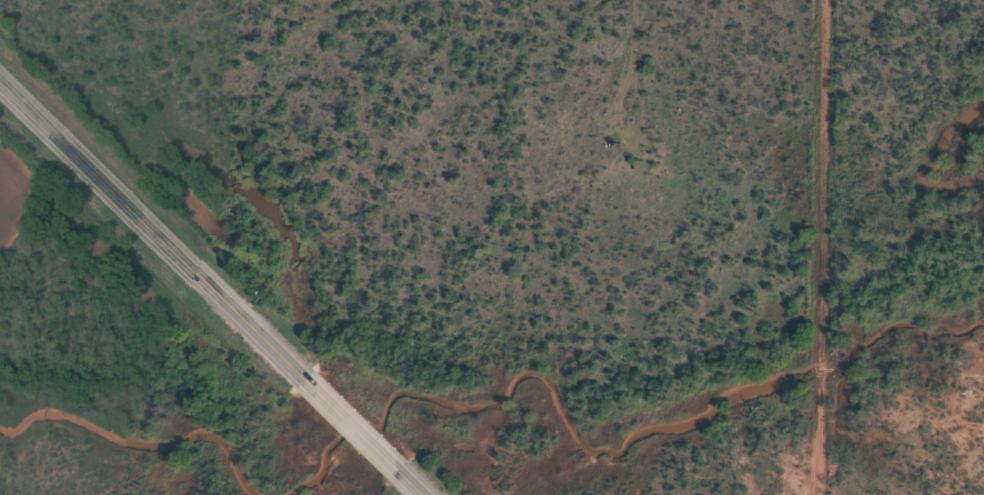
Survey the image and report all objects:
road: (822, 247)
road: (212, 287)

